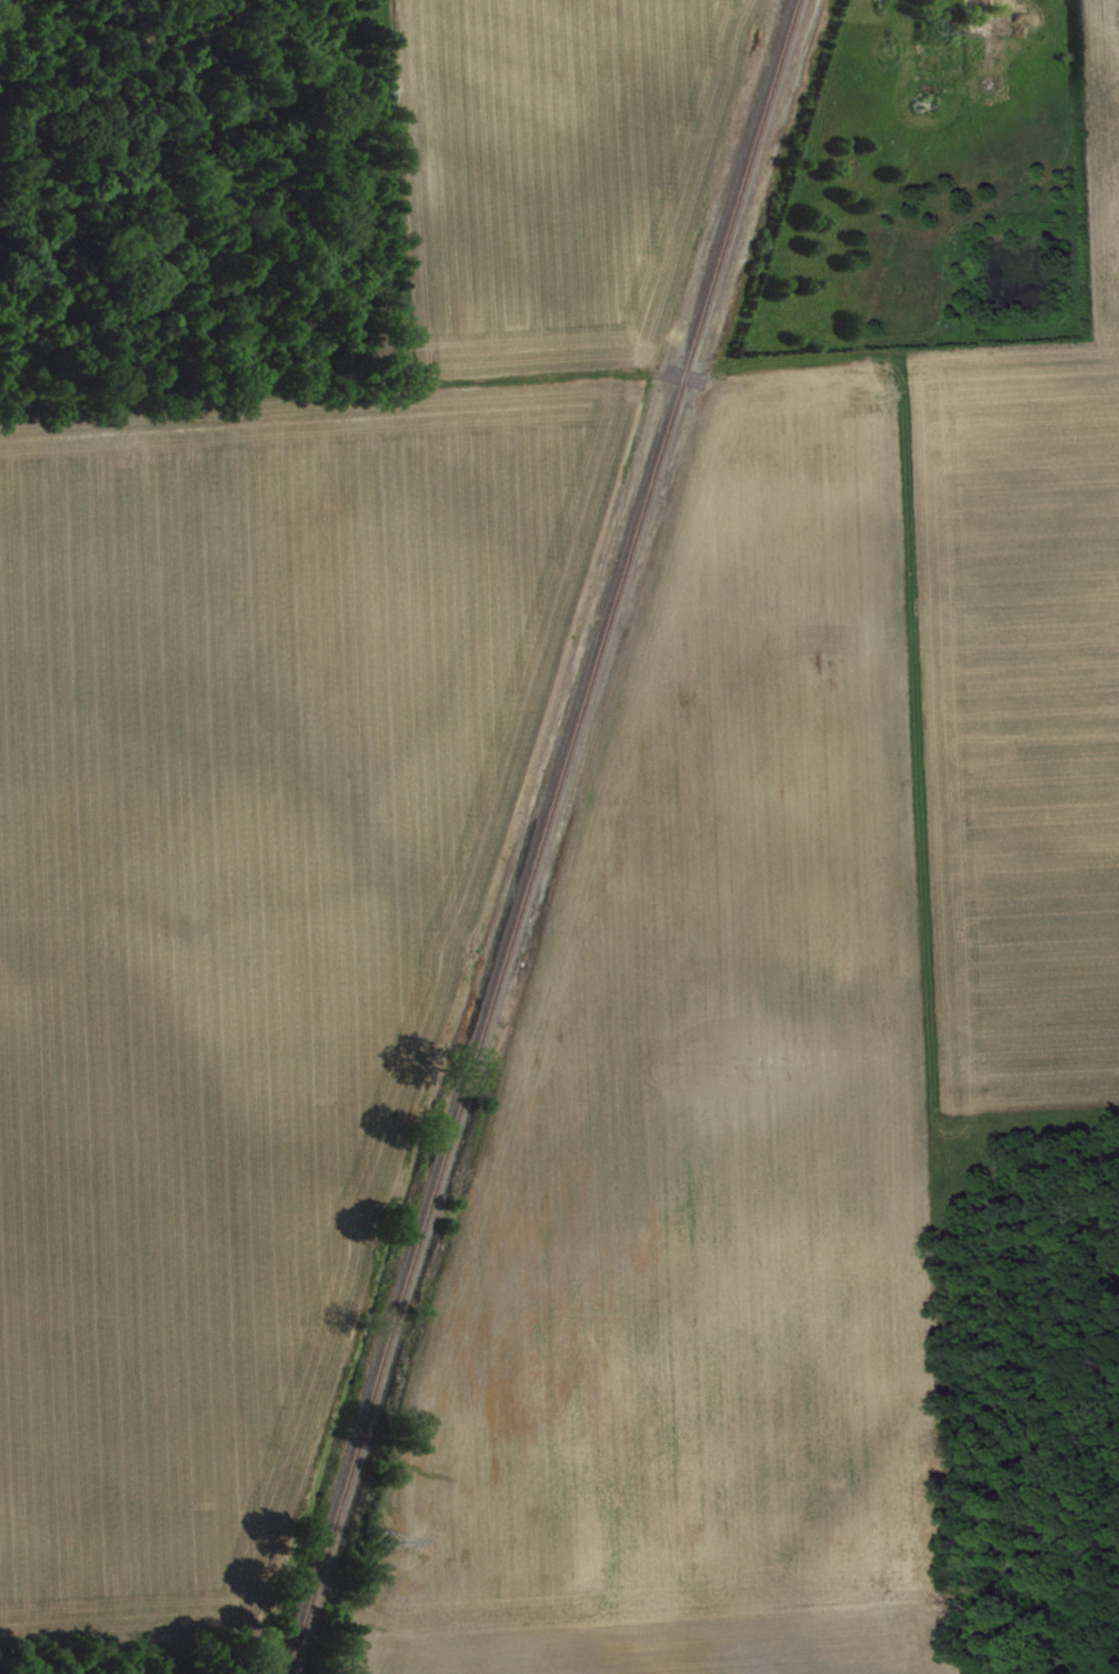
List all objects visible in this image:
railway: (542, 836)
power tower: (387, 1538)

